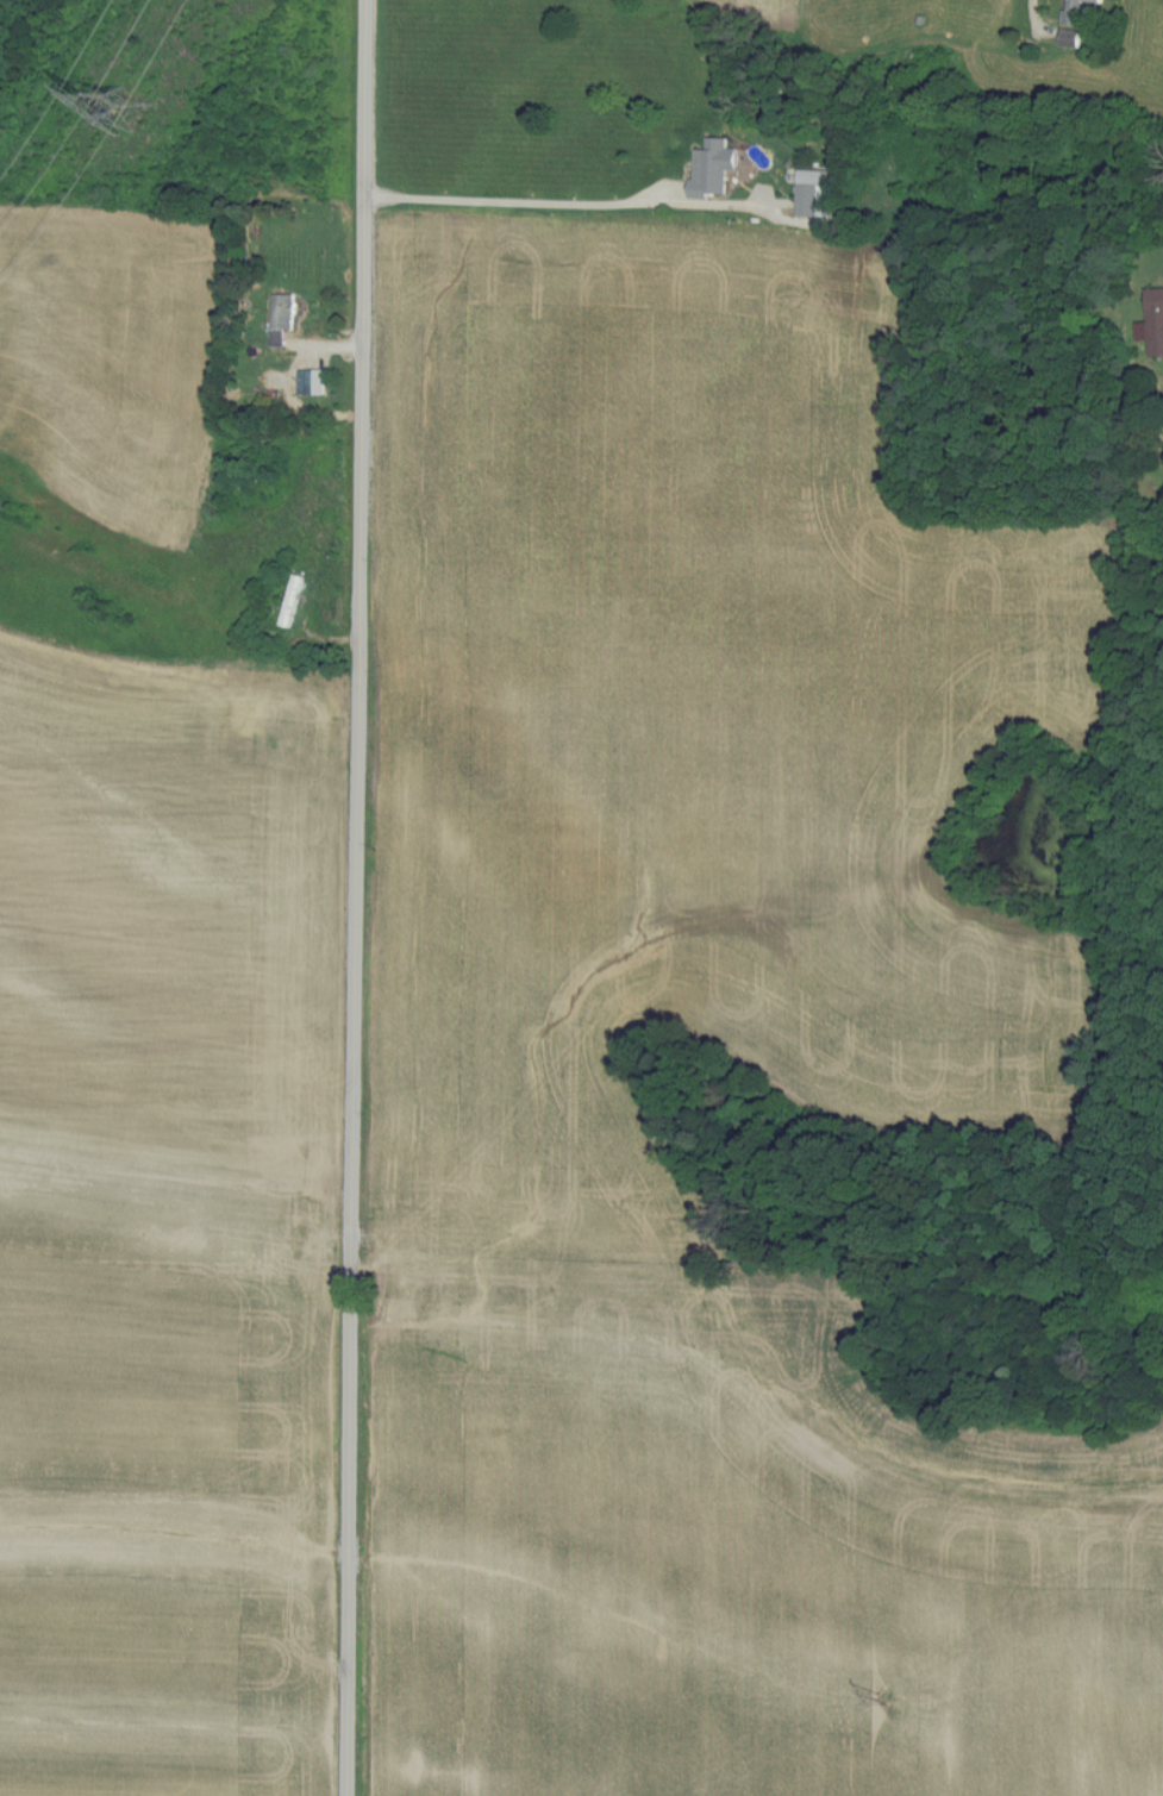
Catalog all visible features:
road: (1037, 13)
building: (1080, 13)
power tower: (135, 106)
building: (713, 167)
building: (812, 189)
road: (554, 206)
building: (285, 311)
building: (1153, 321)
building: (312, 382)
road: (358, 897)

